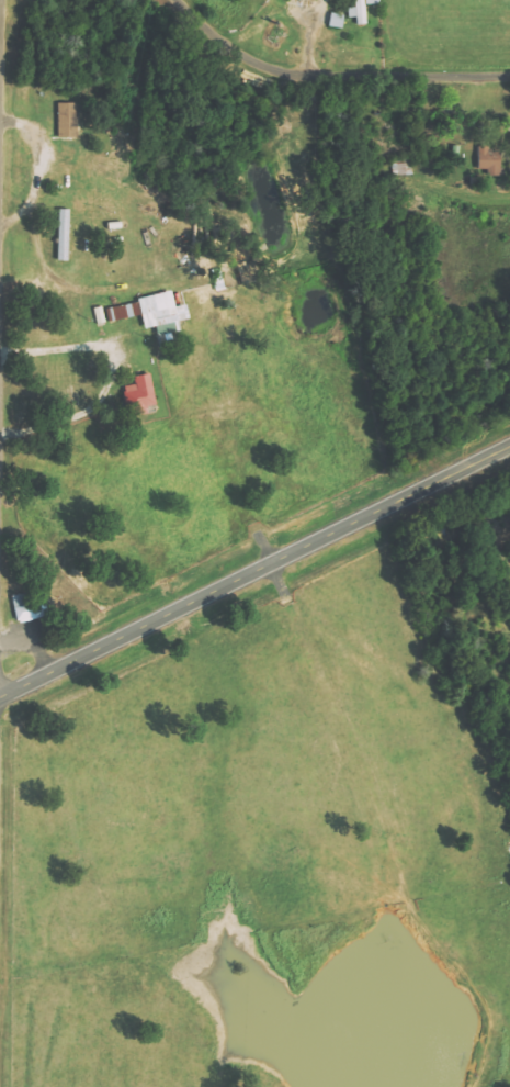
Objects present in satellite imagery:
building: (362, 10)
building: (337, 21)
road: (333, 75)
building: (67, 120)
building: (489, 161)
building: (65, 235)
building: (150, 315)
building: (141, 394)
road: (254, 572)
building: (27, 607)

